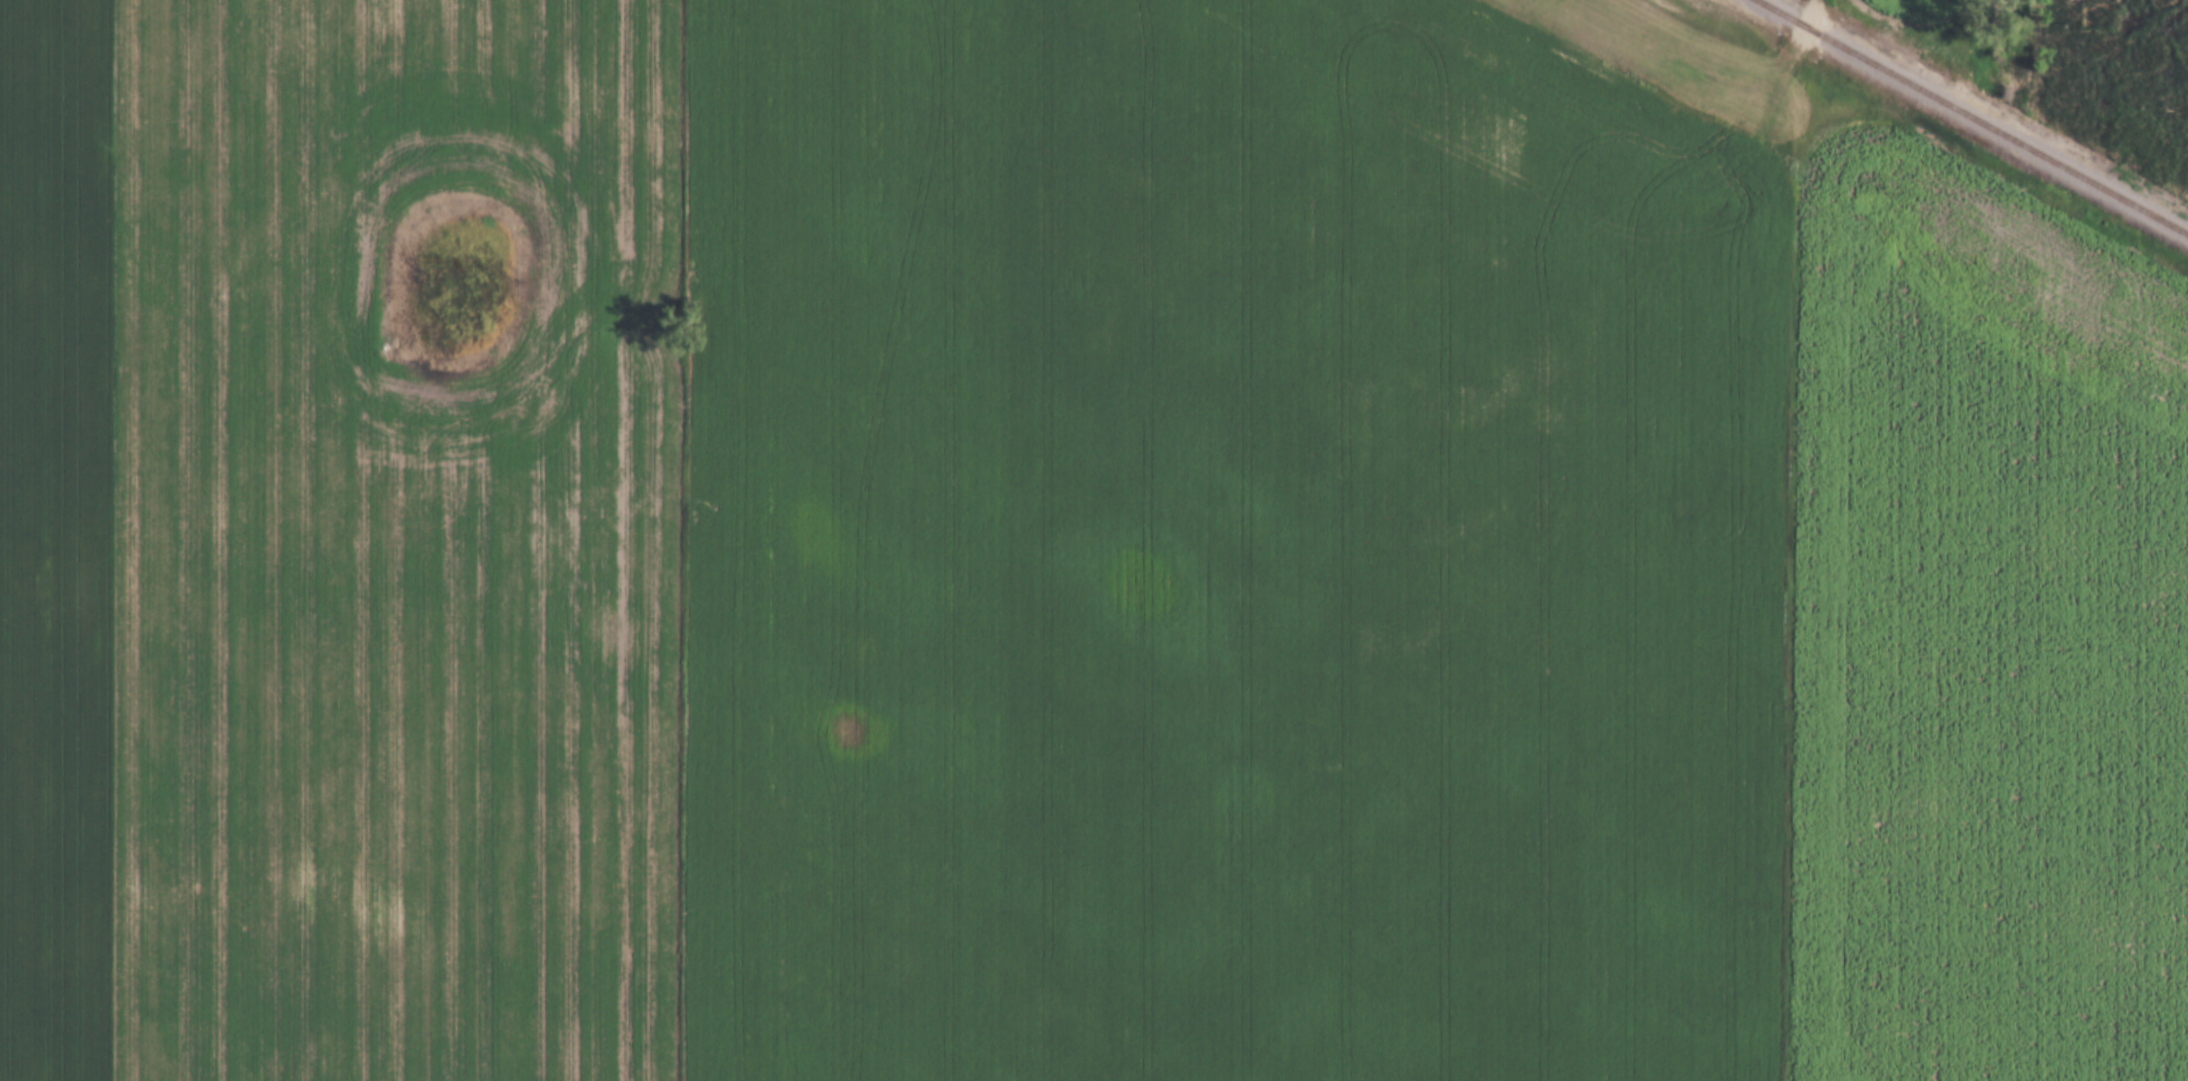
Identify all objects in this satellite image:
road: (1795, 57)
railway: (1974, 115)

